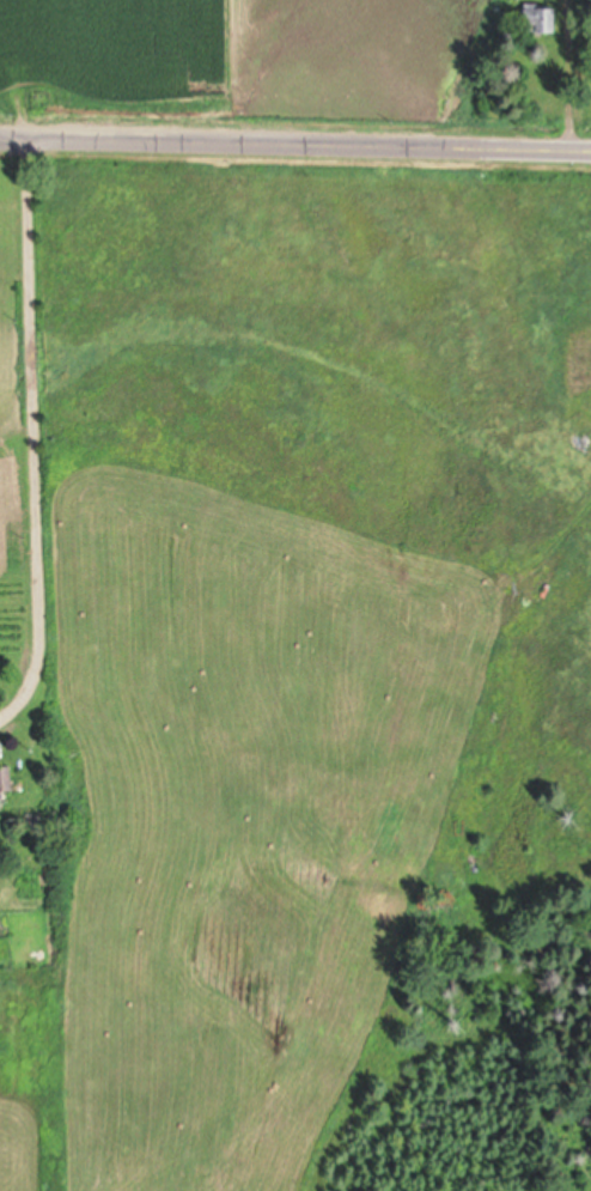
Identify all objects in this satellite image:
building: (544, 18)
road: (295, 145)
road: (28, 409)
building: (11, 784)

